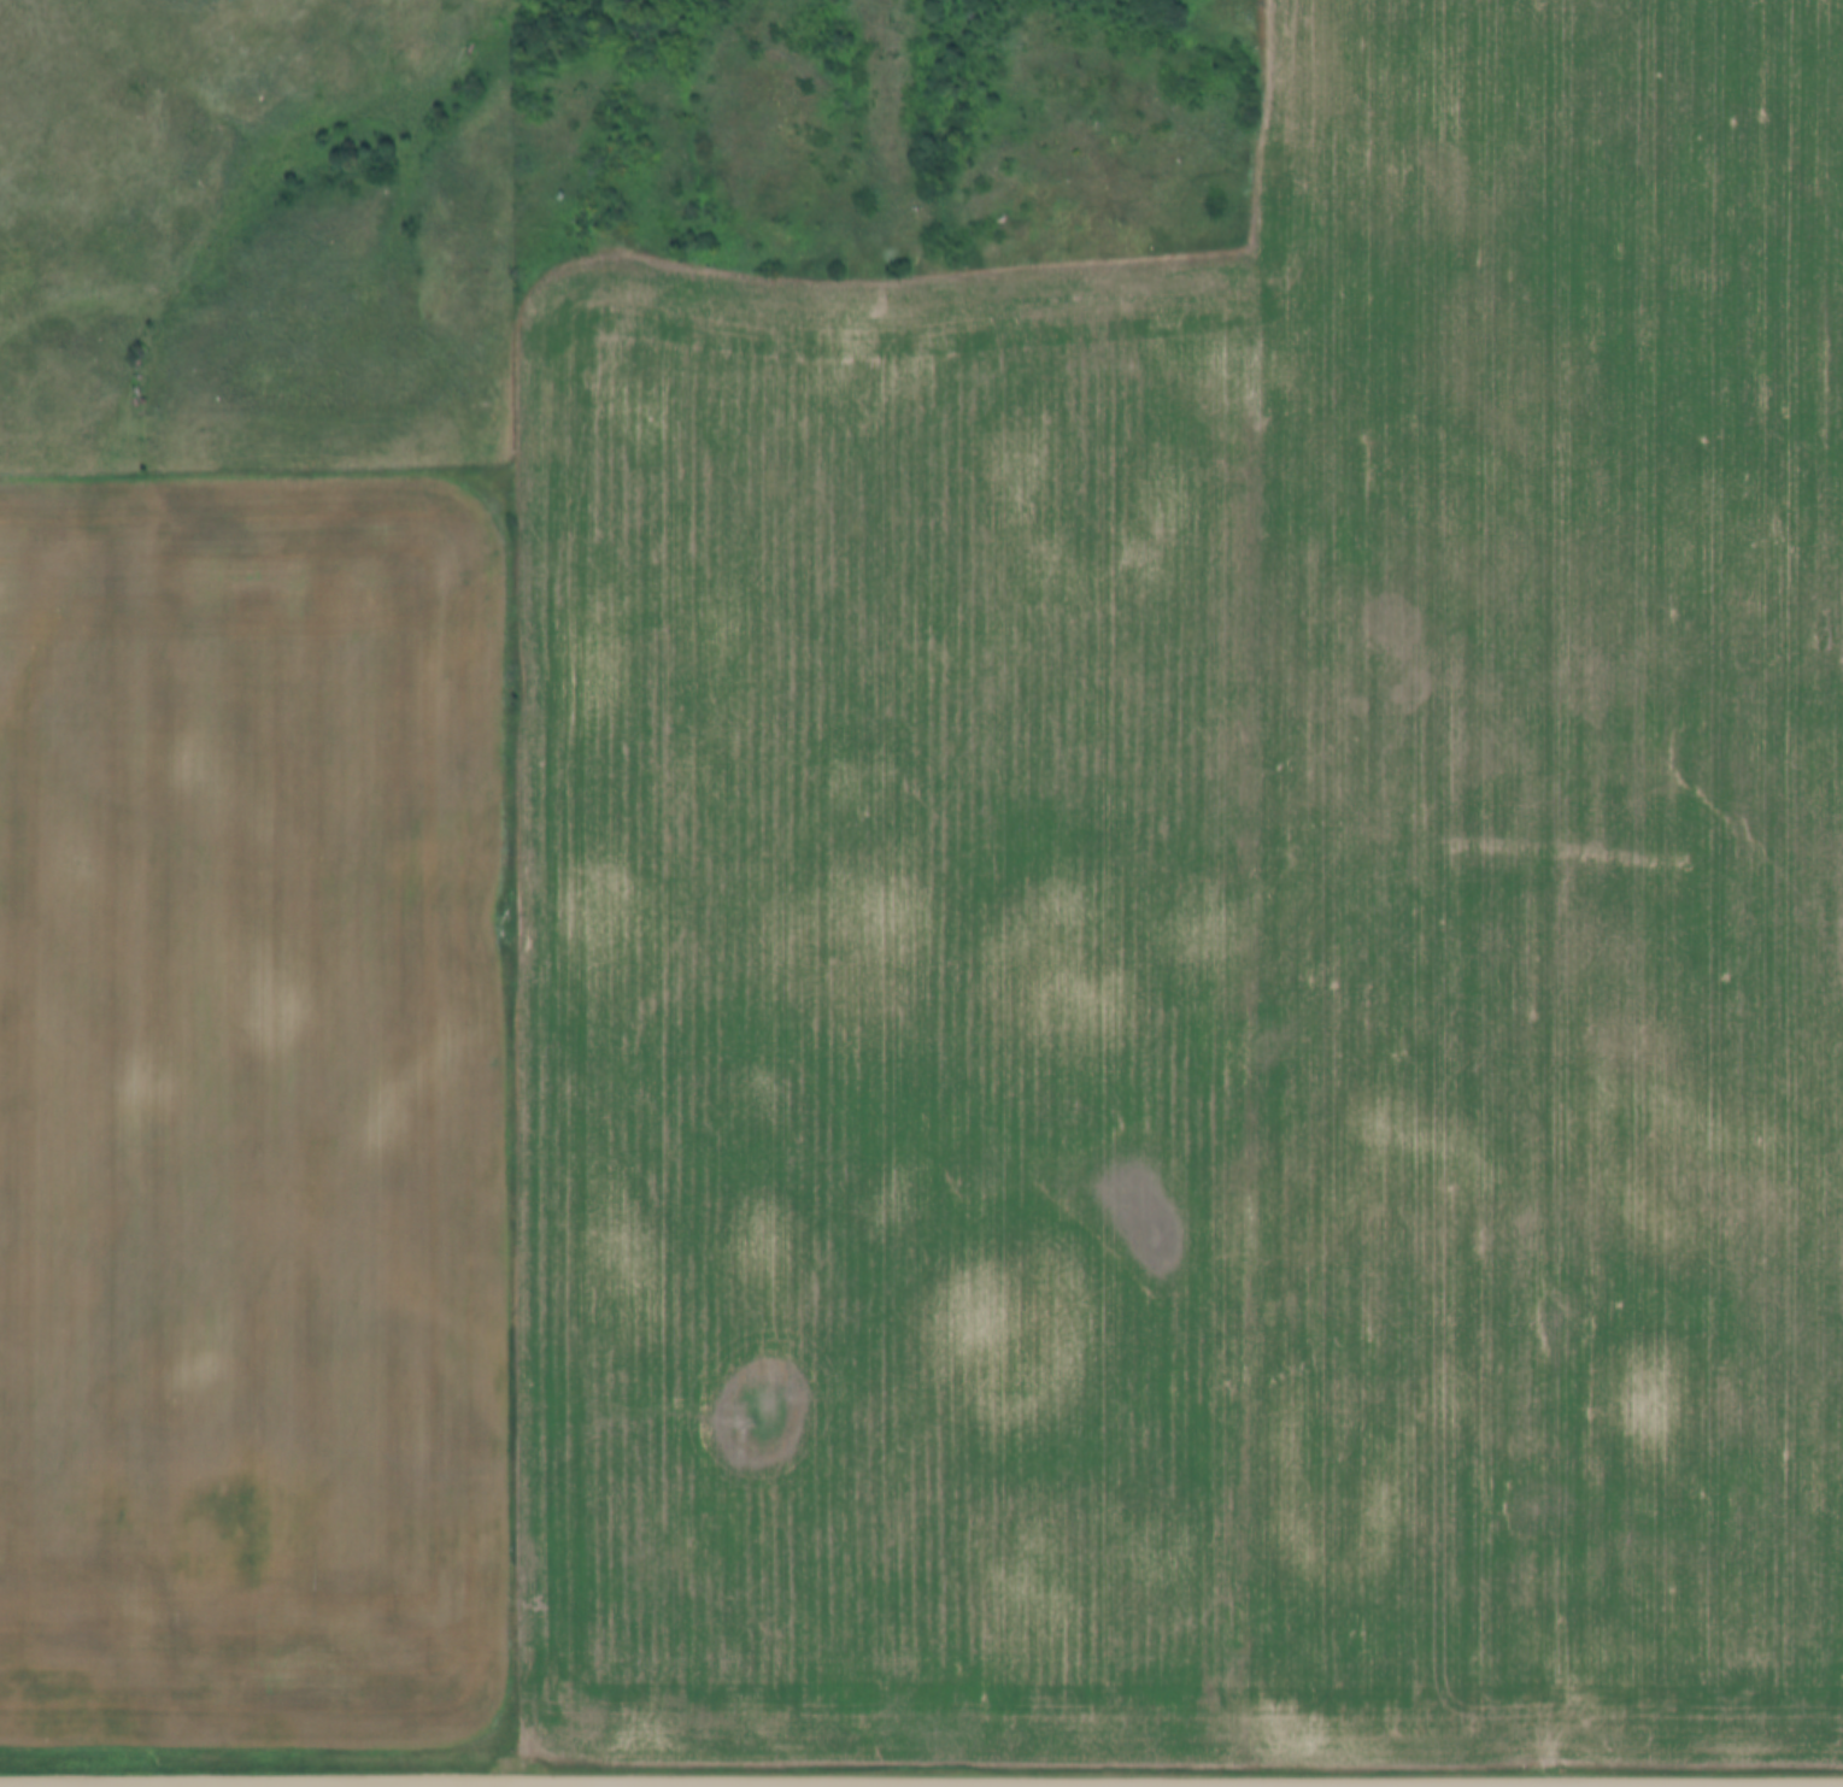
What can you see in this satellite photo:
road: (921, 1783)
road: (513, 1785)

